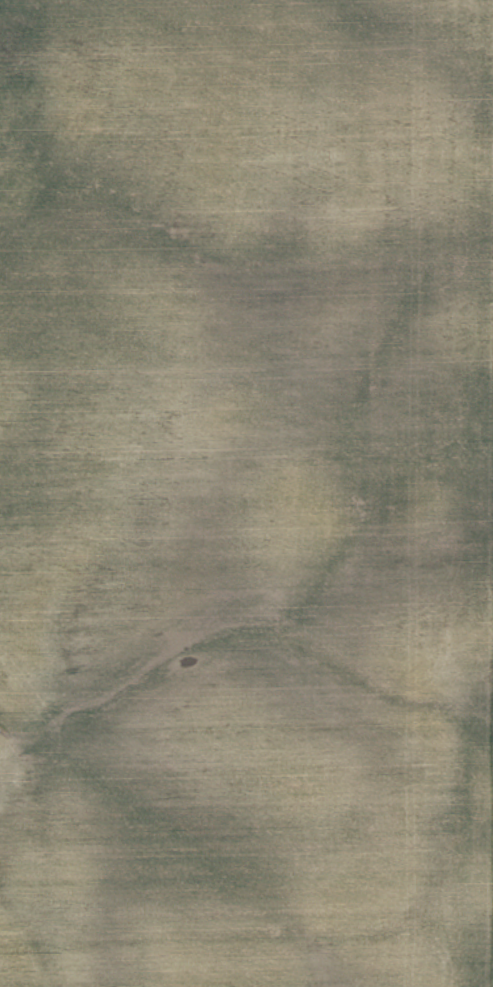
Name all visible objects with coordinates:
crop: (246, 493)

